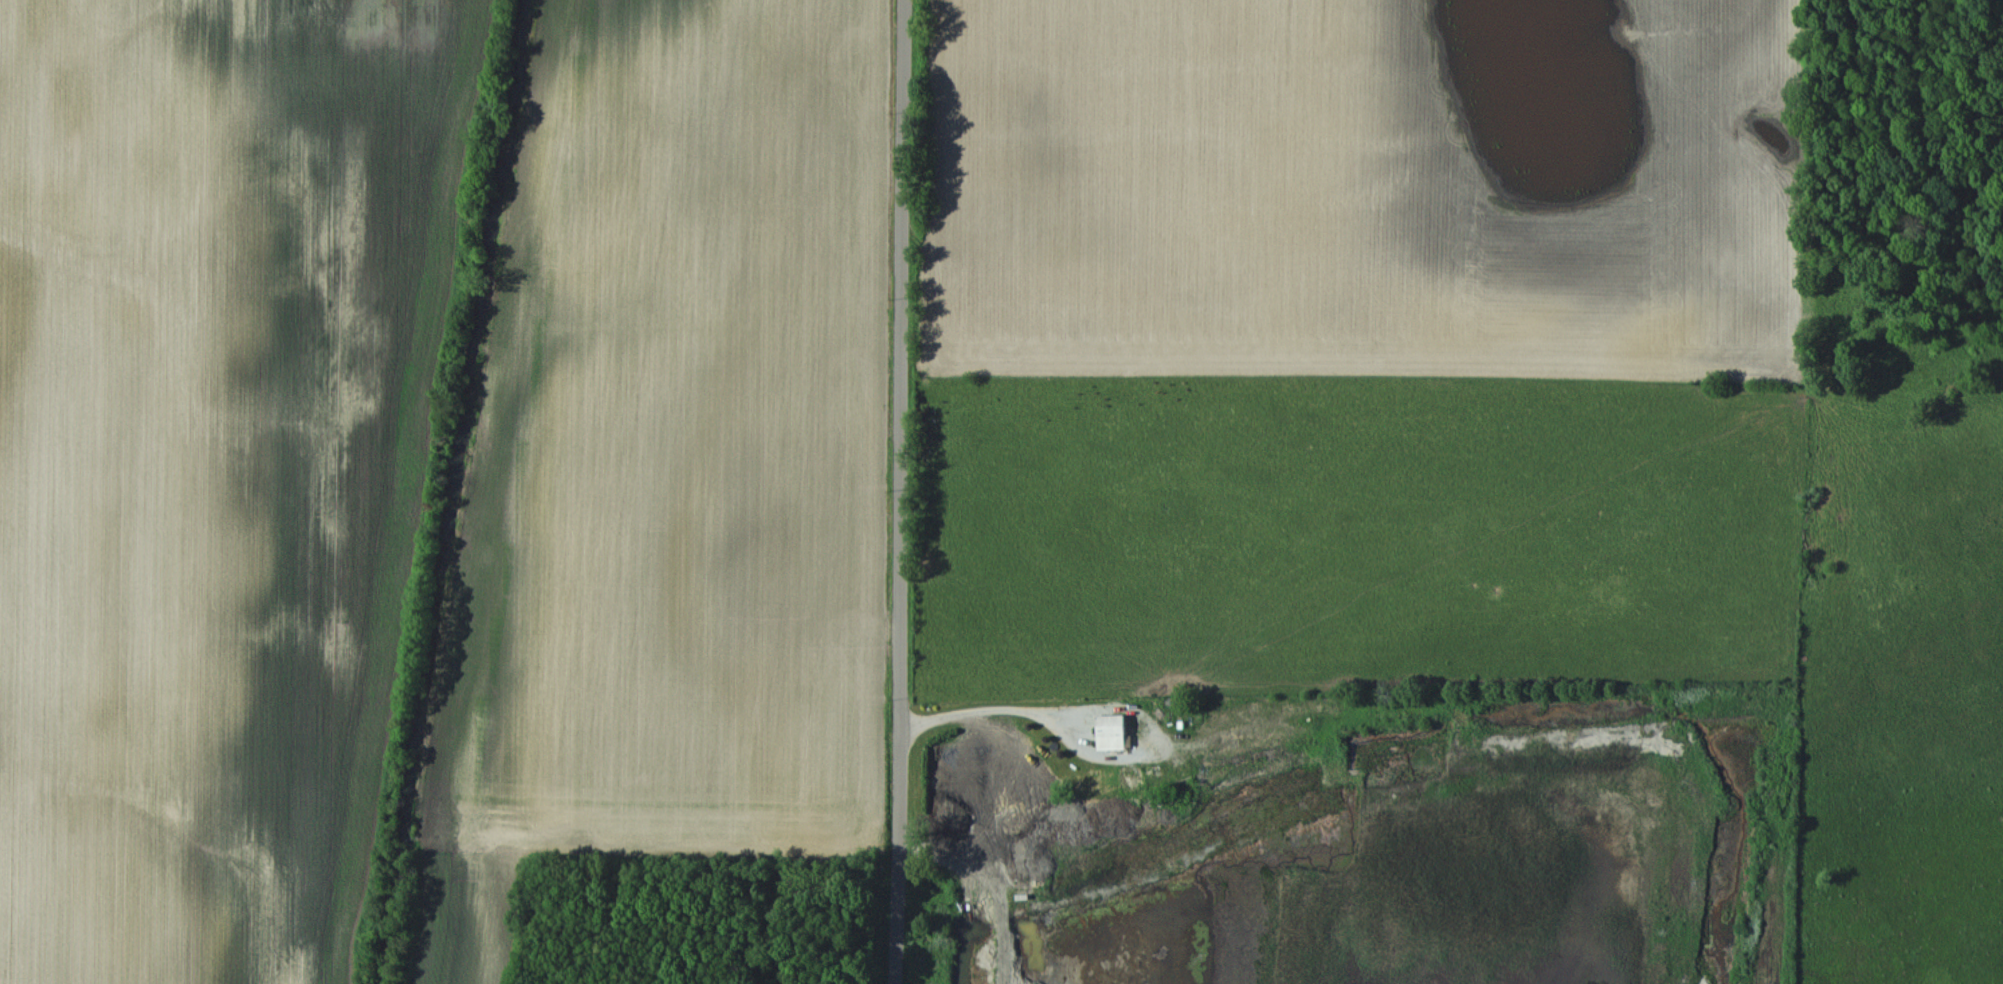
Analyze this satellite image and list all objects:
crop: (212, 465)
road: (901, 492)
road: (1008, 710)
building: (1113, 731)

